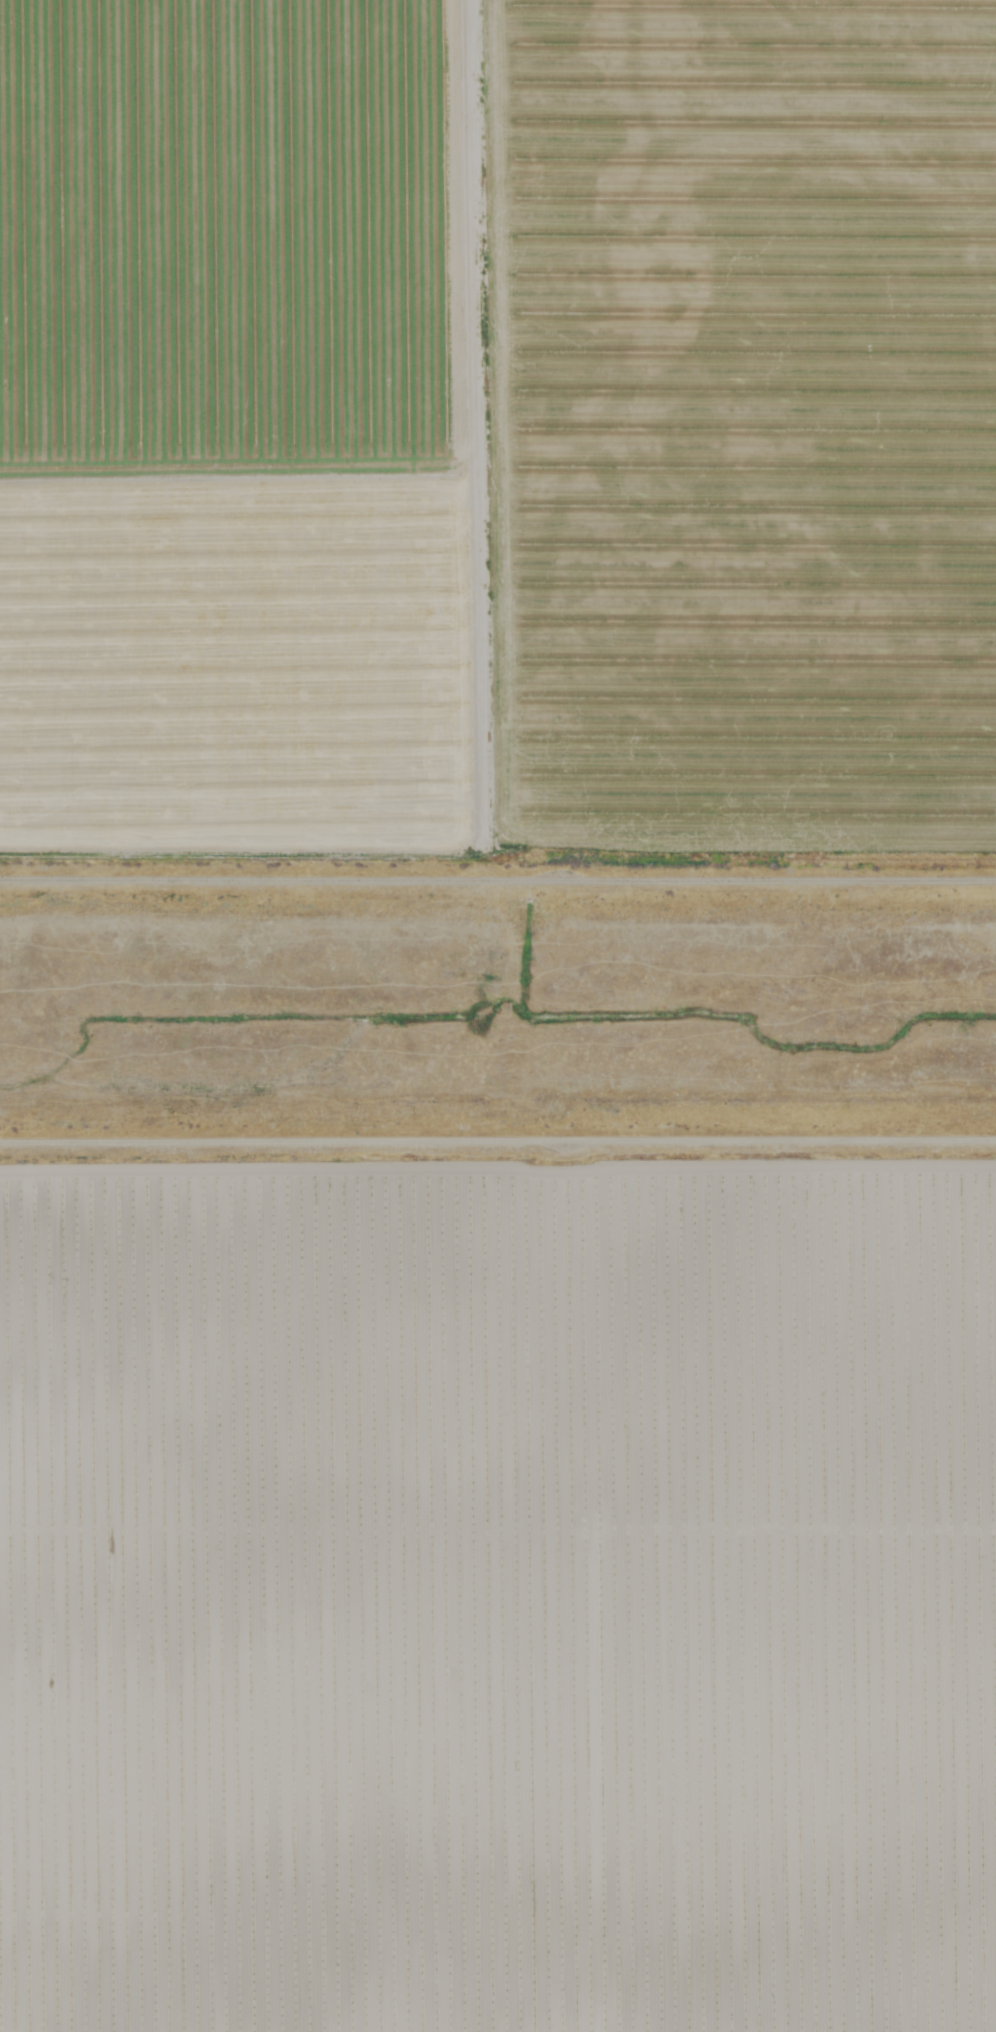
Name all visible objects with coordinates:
crop: (497, 437)
road: (498, 1144)
crop: (497, 1591)

